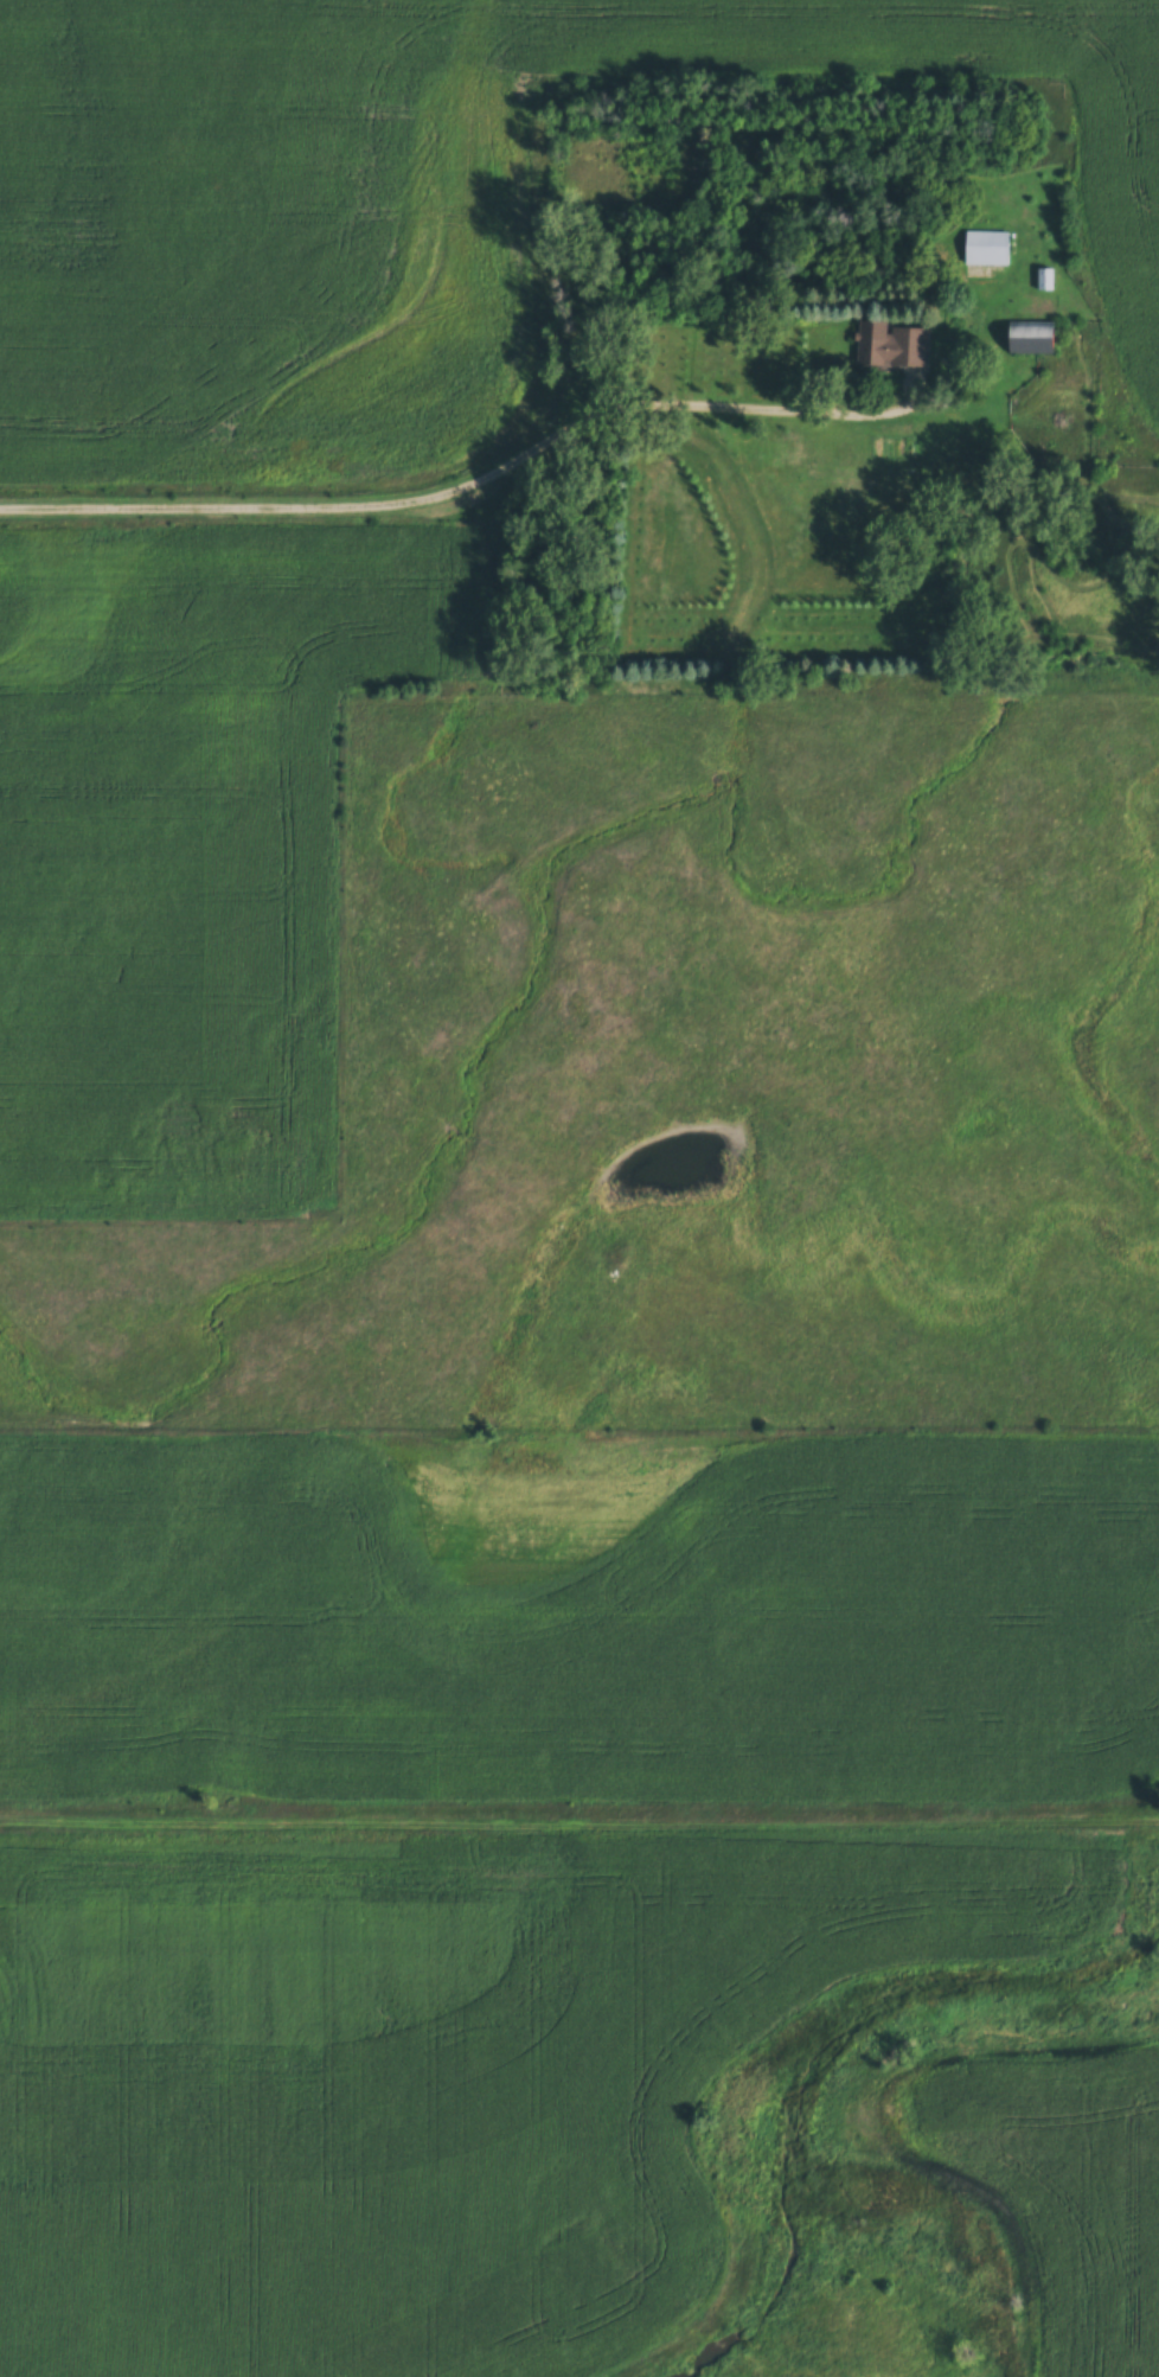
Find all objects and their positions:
building: (986, 249)
building: (1035, 339)
building: (892, 346)
road: (475, 478)
road: (578, 1822)

